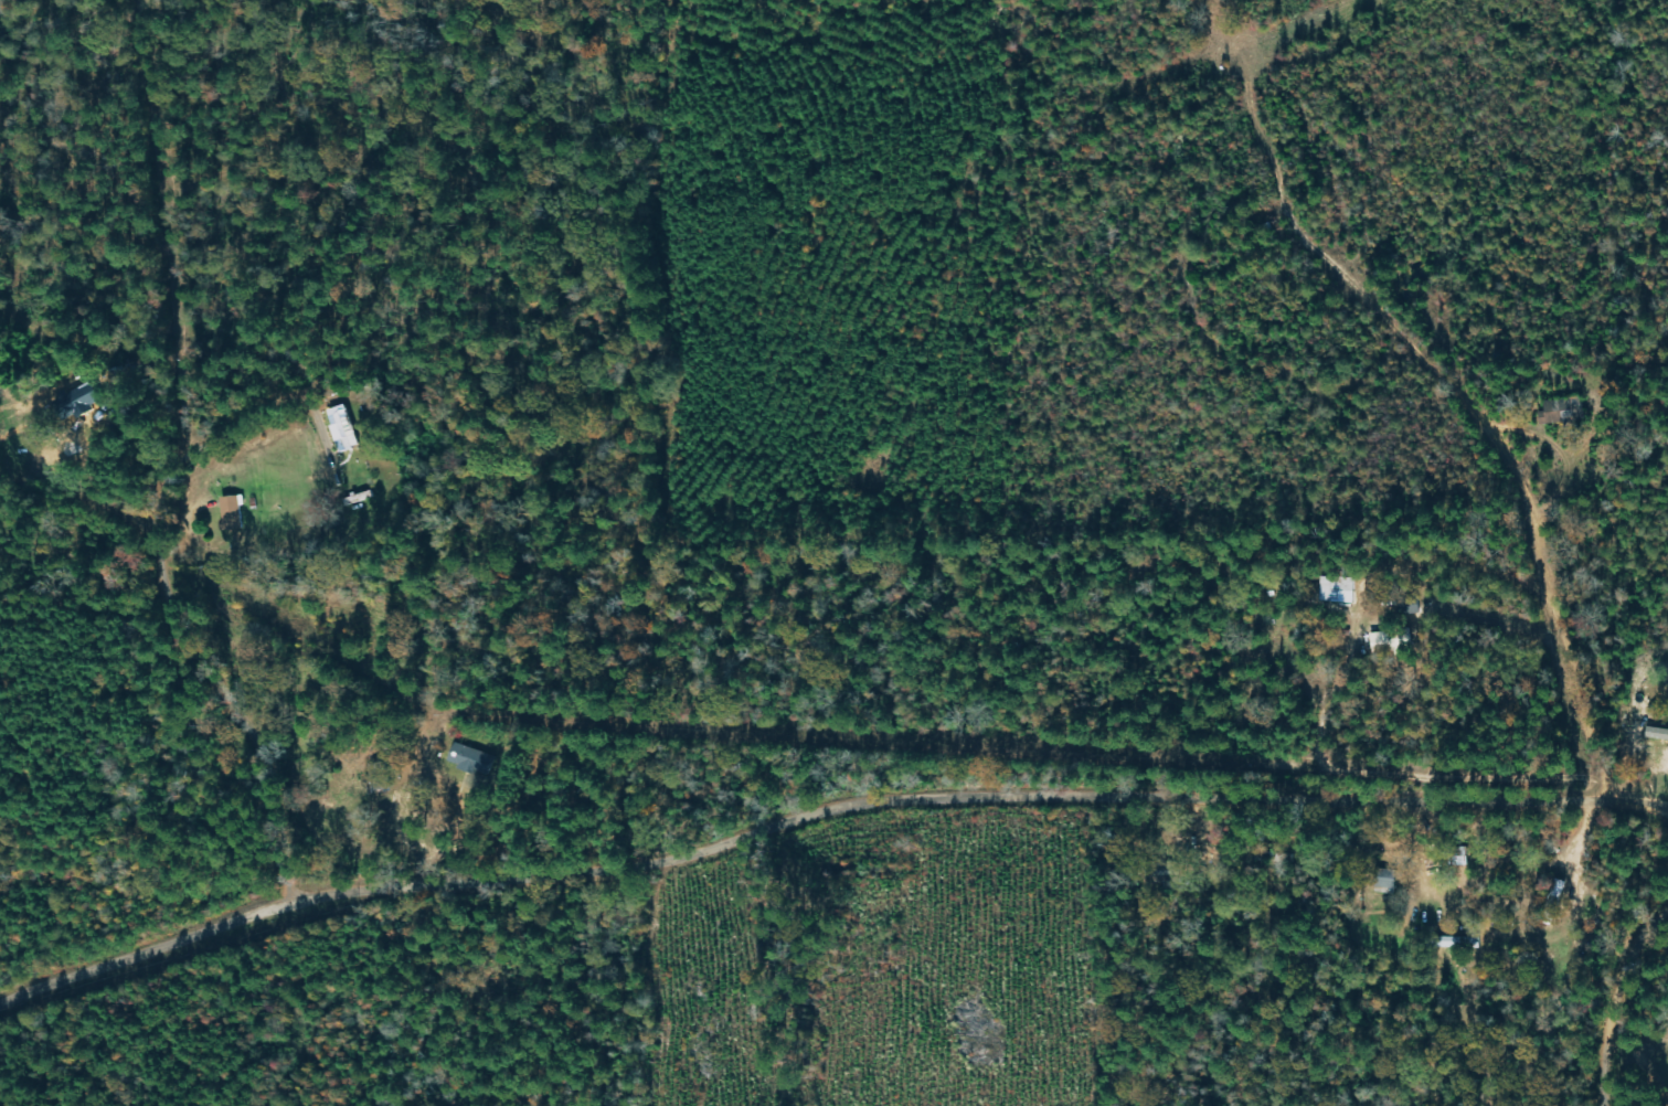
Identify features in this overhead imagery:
road: (1453, 562)
road: (1555, 570)
road: (176, 594)
building: (1389, 640)
building: (1656, 734)
road: (372, 753)
building: (477, 759)
road: (825, 811)
building: (1383, 879)
road: (1619, 1003)
road: (1642, 1062)

